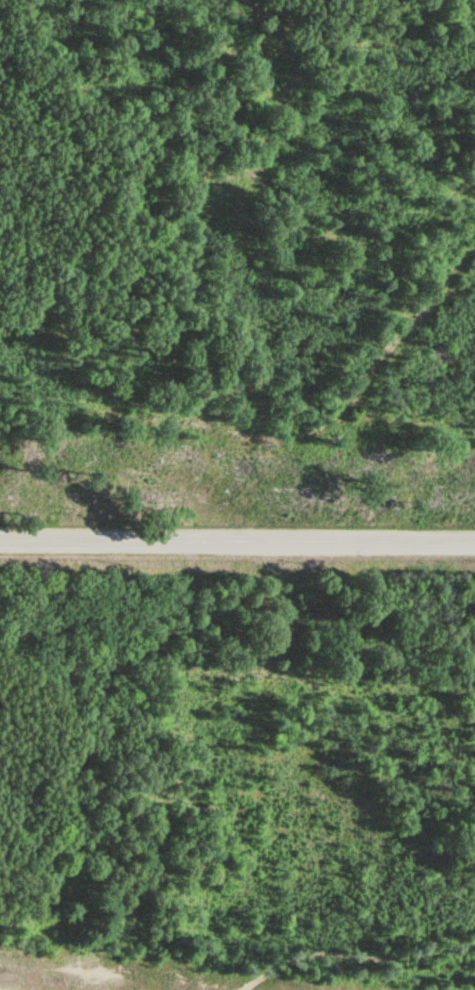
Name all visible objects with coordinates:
road: (237, 540)
road: (248, 982)

